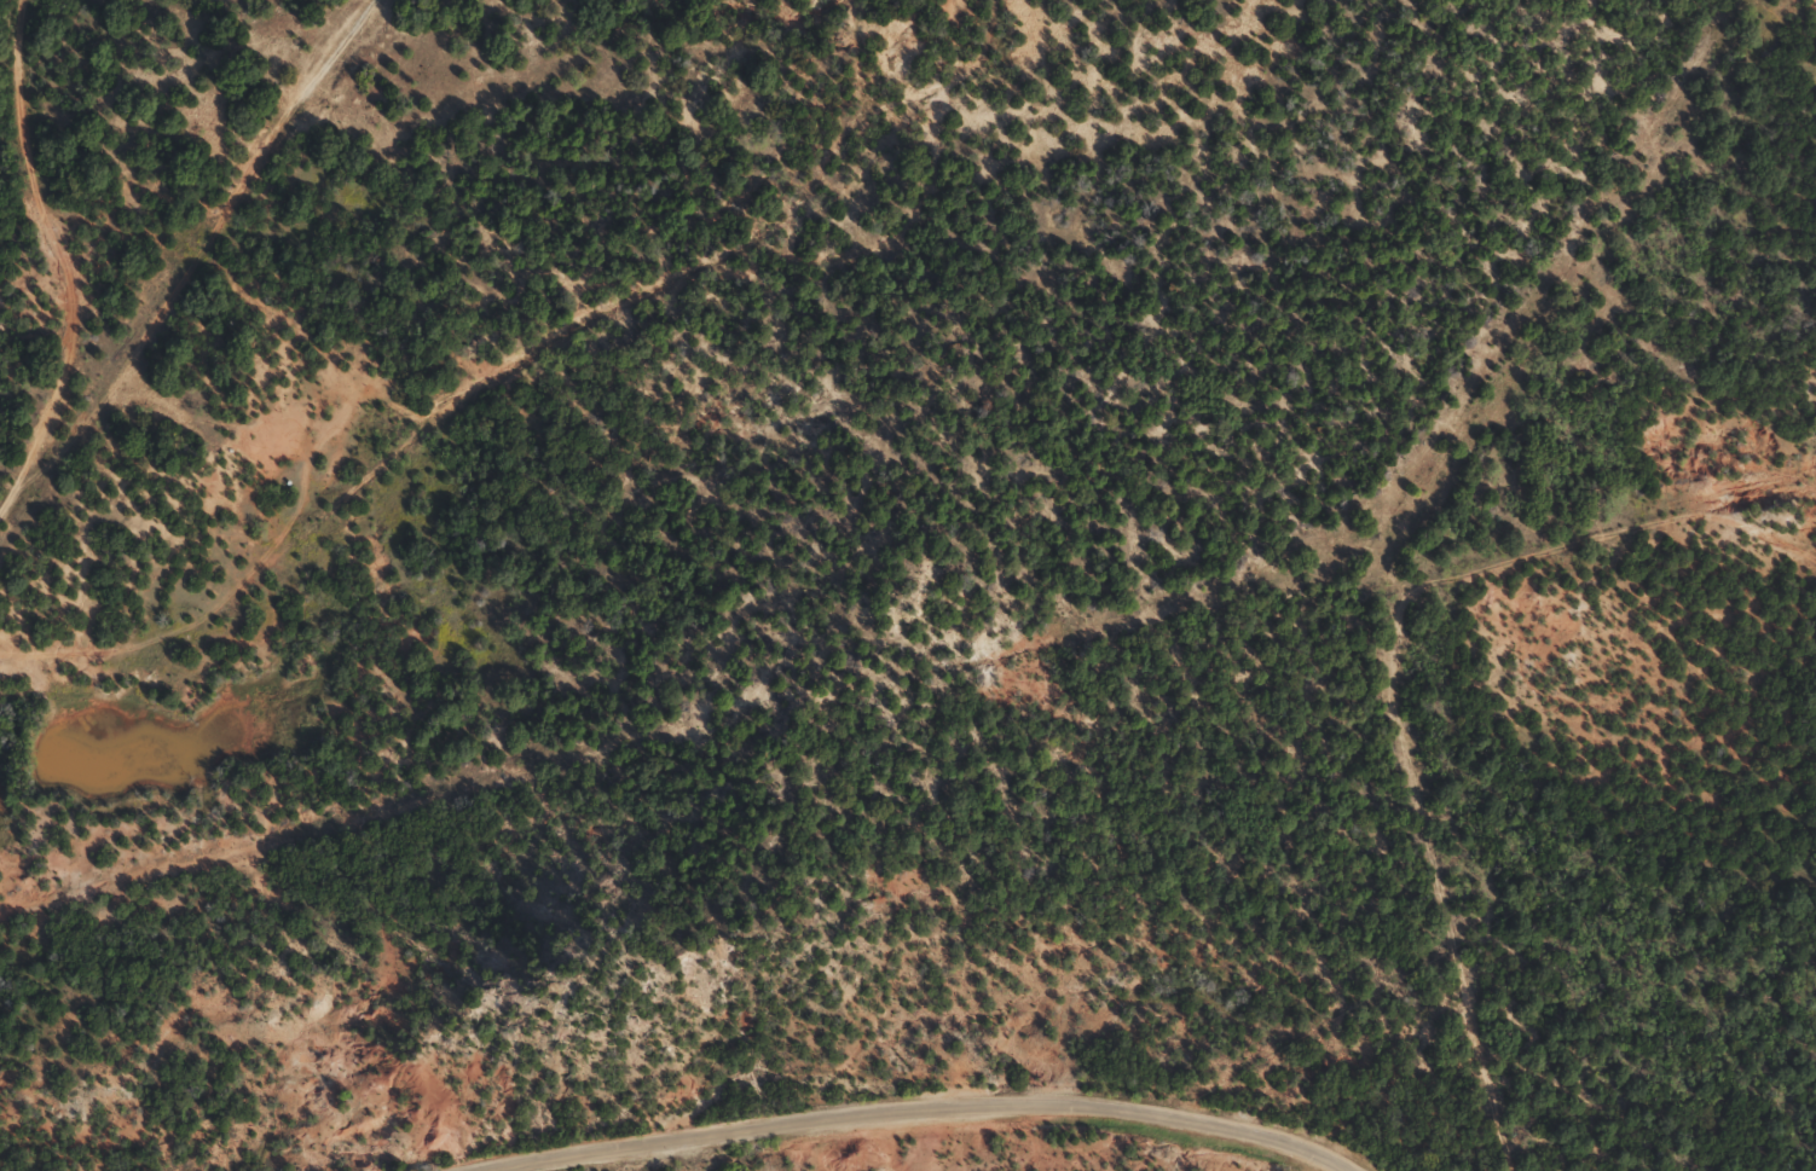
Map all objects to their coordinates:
park: (803, 961)
road: (913, 1113)

